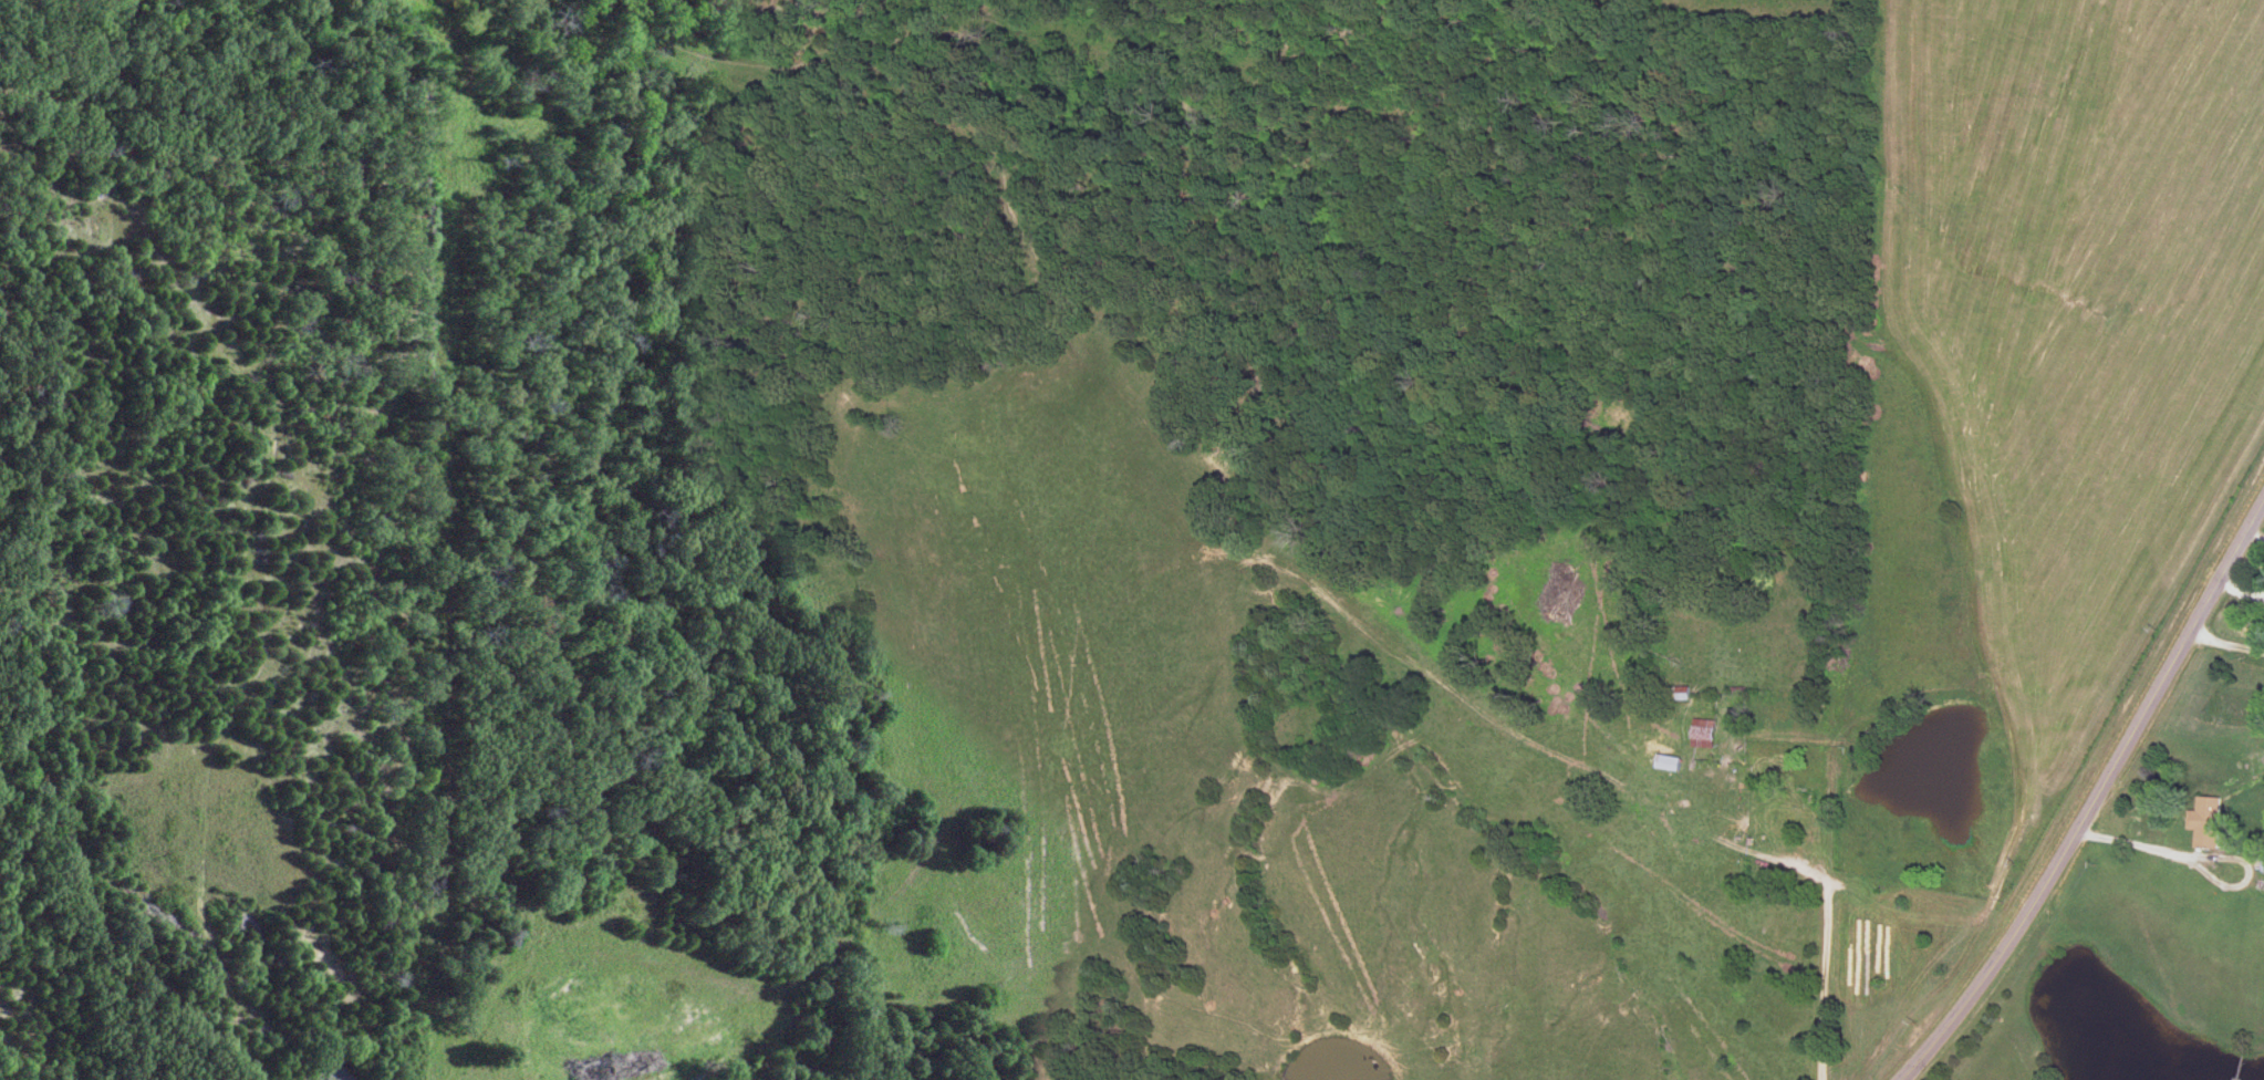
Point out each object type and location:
road: (2226, 645)
building: (1699, 734)
building: (1664, 764)
road: (2096, 800)
building: (2202, 822)
road: (2200, 858)
building: (2261, 865)
road: (1819, 991)

